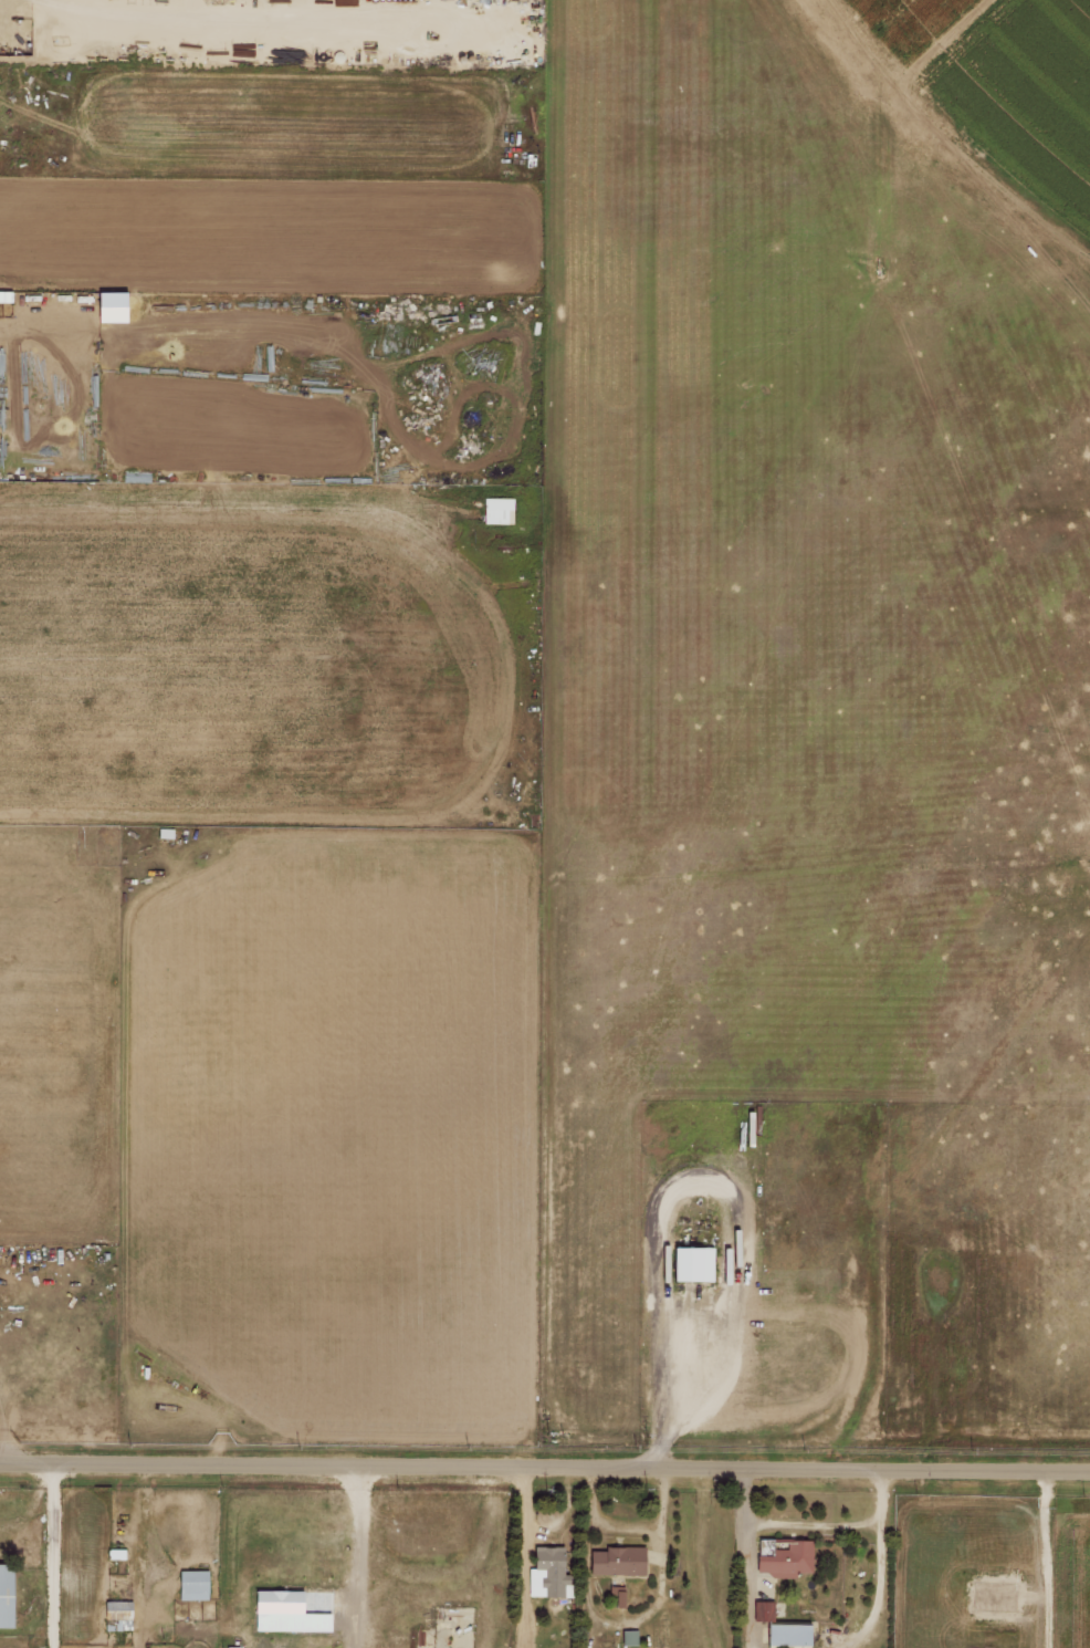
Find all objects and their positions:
building: (4, 295)
building: (111, 306)
building: (496, 509)
building: (691, 1263)
road: (545, 1462)
road: (52, 1553)
building: (787, 1560)
building: (616, 1561)
building: (547, 1573)
building: (191, 1584)
building: (7, 1595)
building: (617, 1596)
building: (763, 1610)
building: (284, 1613)
building: (786, 1634)
building: (628, 1637)

